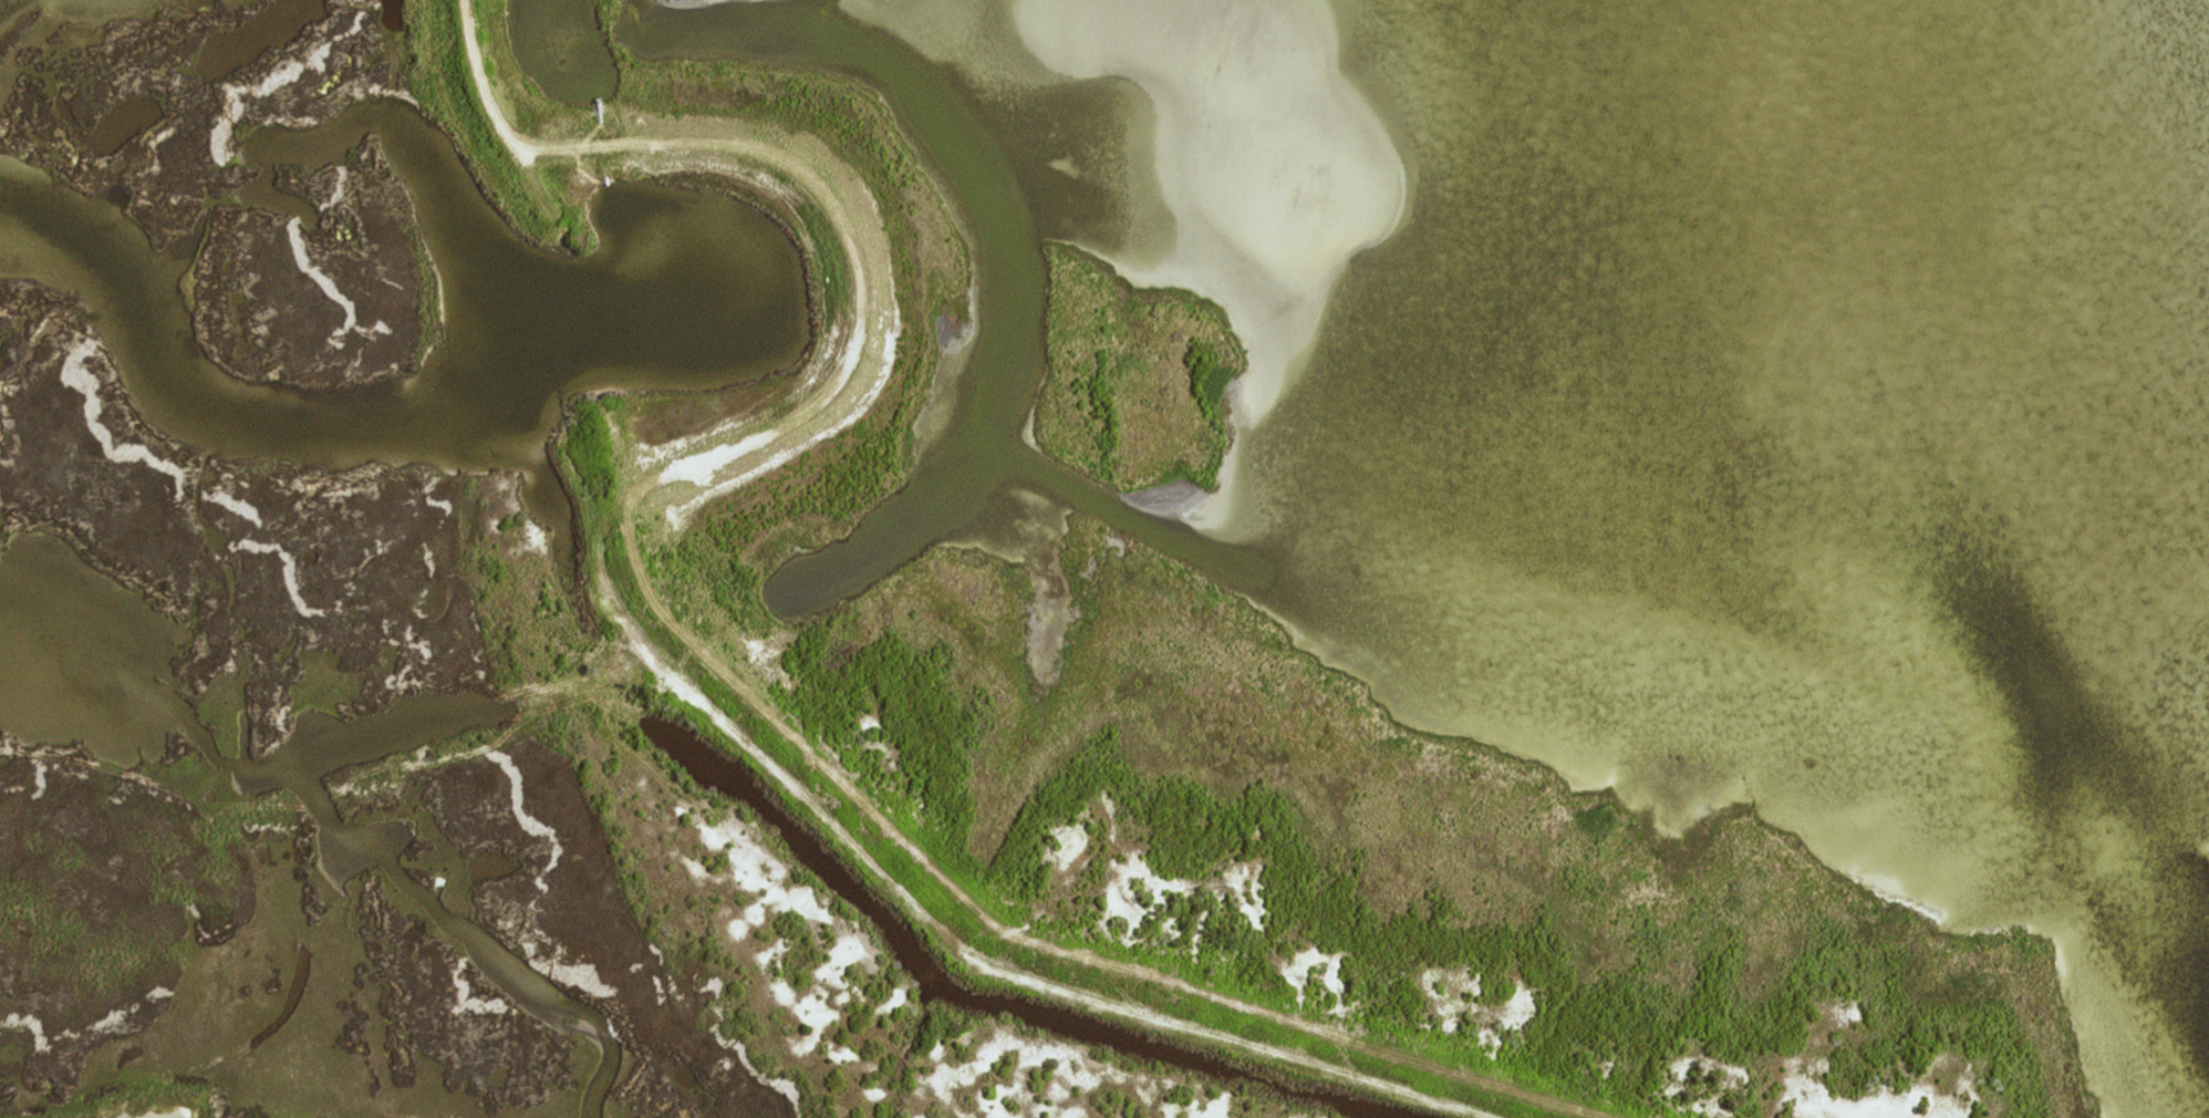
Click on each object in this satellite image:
road: (649, 593)
road: (895, 882)

